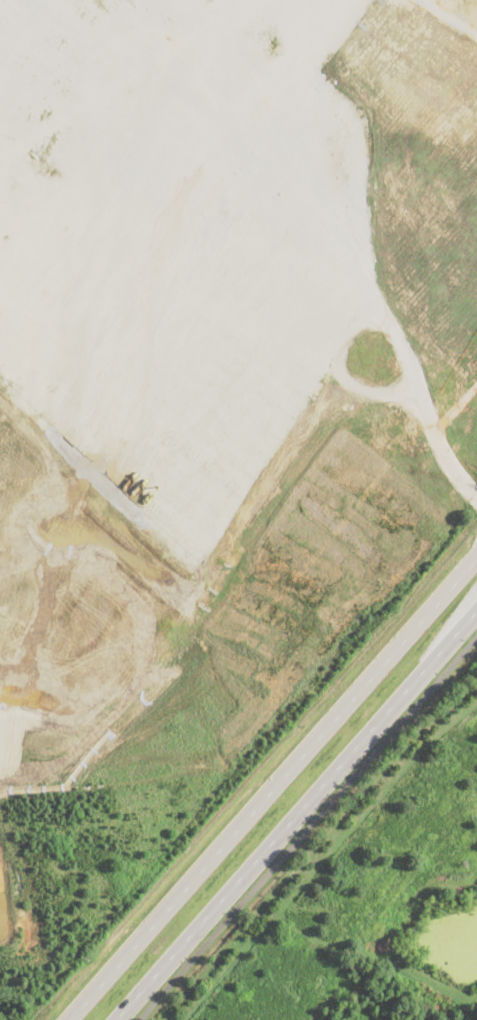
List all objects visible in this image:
road: (272, 789)
road: (297, 816)
road: (305, 826)
park: (370, 897)

